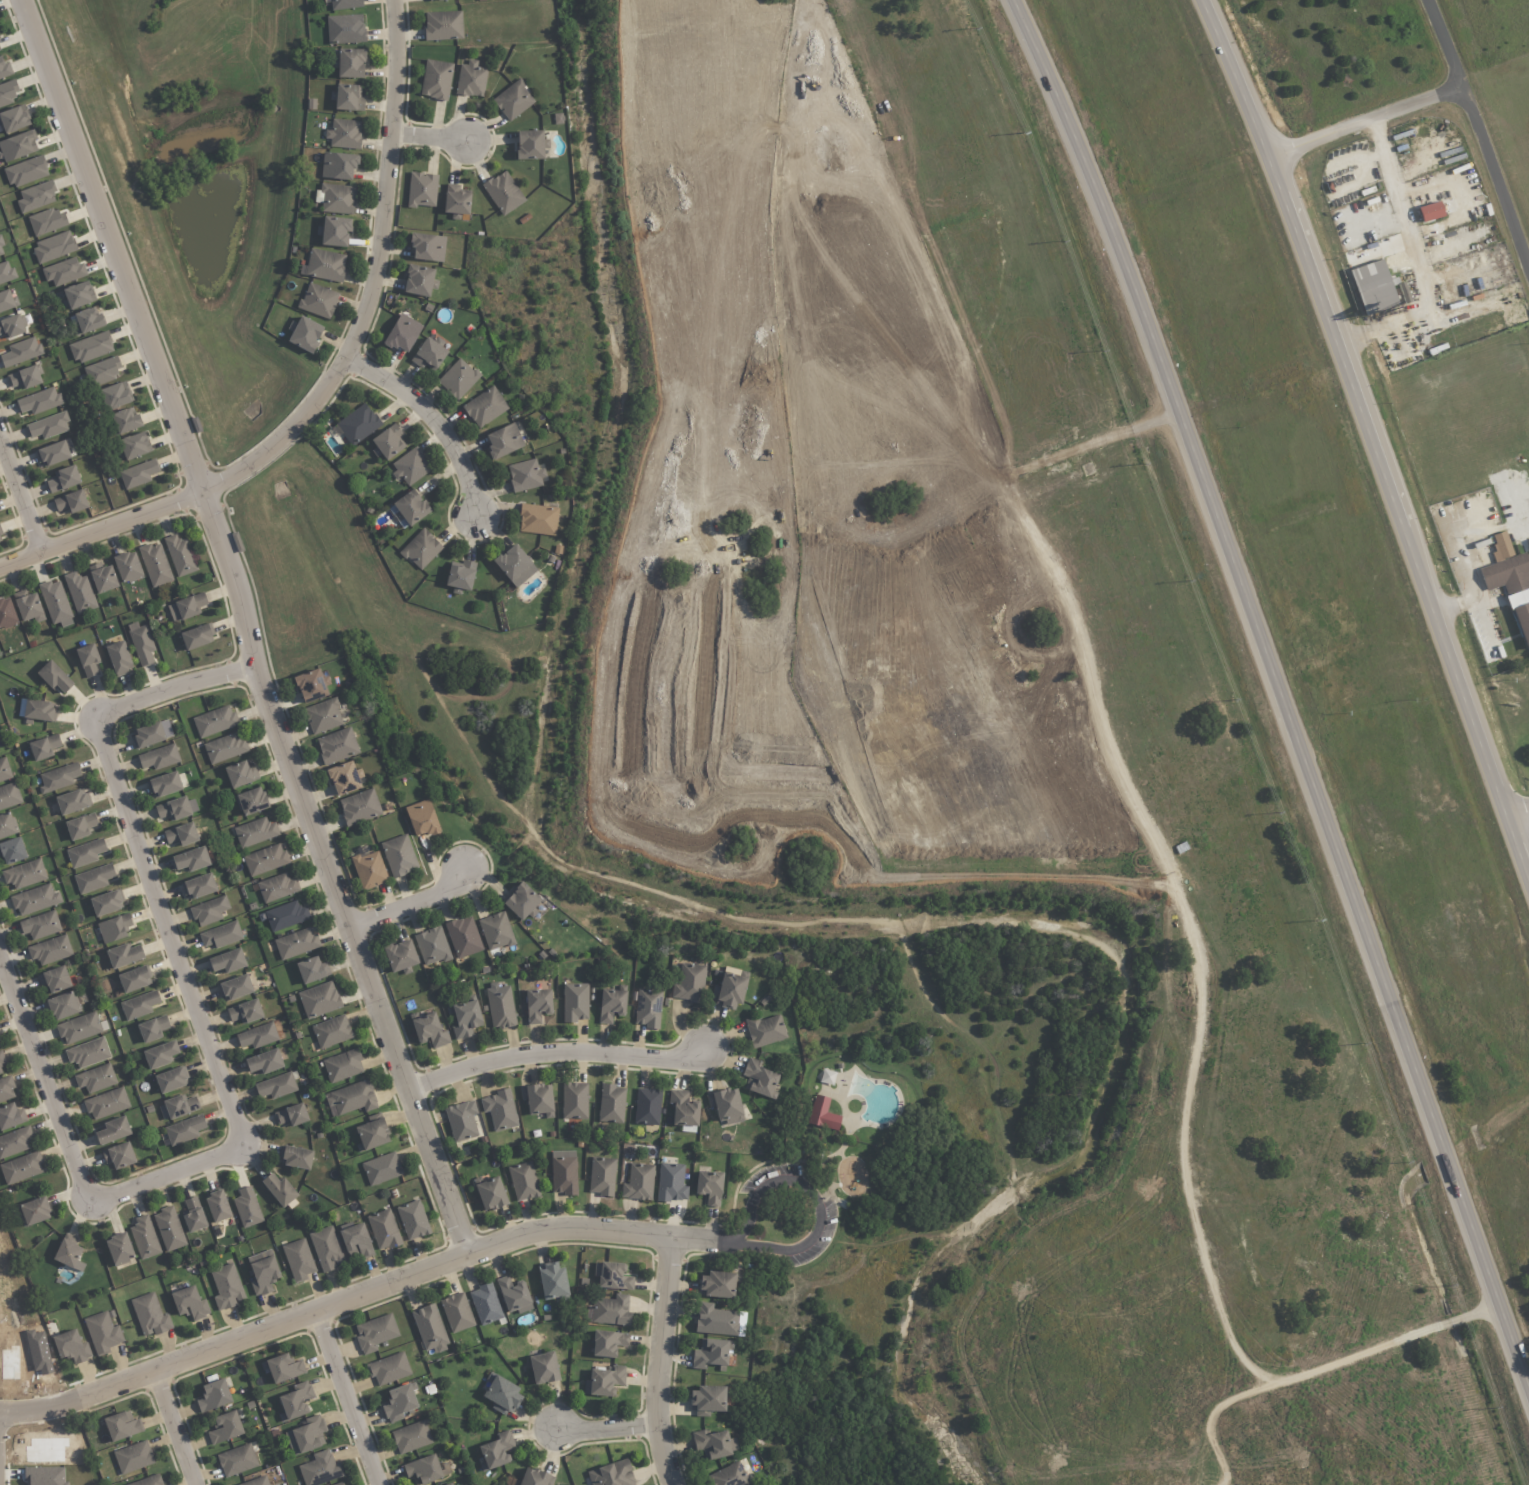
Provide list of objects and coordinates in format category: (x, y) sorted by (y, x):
building: (433, 0)
building: (344, 4)
building: (443, 25)
building: (345, 29)
building: (0, 49)
building: (349, 62)
building: (5, 69)
building: (436, 79)
building: (471, 79)
building: (8, 93)
building: (347, 97)
building: (513, 100)
building: (14, 119)
road: (1366, 122)
building: (344, 134)
road: (1479, 134)
road: (433, 139)
building: (530, 145)
building: (17, 146)
building: (338, 166)
building: (25, 171)
building: (1367, 189)
building: (421, 190)
building: (503, 193)
building: (36, 196)
building: (336, 198)
building: (1372, 199)
building: (456, 201)
building: (1436, 207)
building: (47, 221)
building: (335, 231)
building: (54, 247)
building: (427, 247)
building: (1, 249)
road: (1421, 258)
building: (325, 265)
building: (6, 272)
building: (64, 272)
building: (419, 280)
building: (1373, 285)
building: (77, 295)
building: (7, 300)
building: (318, 300)
building: (89, 320)
building: (11, 326)
building: (402, 333)
building: (304, 334)
building: (90, 347)
building: (21, 352)
building: (429, 354)
building: (102, 371)
building: (25, 378)
road: (331, 379)
building: (458, 379)
building: (115, 395)
building: (39, 401)
building: (485, 407)
building: (125, 420)
road: (434, 421)
building: (358, 424)
building: (48, 426)
road: (1370, 440)
building: (503, 441)
building: (388, 442)
building: (134, 446)
building: (54, 453)
building: (410, 467)
building: (138, 474)
building: (525, 475)
building: (63, 479)
road: (20, 496)
building: (71, 502)
building: (409, 509)
building: (538, 519)
building: (0, 541)
building: (1528, 542)
building: (421, 549)
building: (180, 555)
building: (512, 562)
building: (155, 564)
building: (127, 566)
building: (1505, 567)
building: (460, 576)
building: (102, 578)
building: (80, 593)
building: (55, 603)
building: (28, 606)
building: (186, 607)
building: (7, 613)
building: (1522, 622)
road: (244, 626)
building: (196, 637)
building: (141, 643)
building: (118, 658)
building: (88, 659)
building: (54, 677)
building: (311, 685)
road: (1277, 695)
building: (35, 710)
building: (322, 716)
building: (214, 721)
building: (147, 735)
building: (337, 746)
building: (44, 747)
building: (224, 748)
building: (159, 757)
building: (4, 770)
building: (240, 774)
building: (59, 777)
building: (344, 778)
building: (164, 785)
building: (9, 796)
building: (251, 801)
building: (71, 802)
building: (359, 807)
building: (177, 808)
road: (1517, 811)
building: (421, 818)
building: (6, 826)
building: (80, 826)
building: (255, 832)
building: (181, 835)
building: (12, 851)
building: (85, 853)
building: (398, 856)
building: (191, 859)
building: (265, 860)
building: (368, 869)
building: (24, 874)
building: (94, 878)
building: (198, 886)
building: (277, 887)
building: (35, 900)
building: (521, 902)
building: (105, 903)
road: (411, 903)
building: (209, 911)
building: (286, 916)
building: (40, 925)
building: (114, 928)
building: (496, 931)
building: (221, 935)
building: (463, 937)
building: (296, 943)
building: (432, 946)
road: (1195, 947)
building: (50, 950)
building: (124, 955)
building: (400, 955)
building: (227, 961)
building: (312, 970)
building: (54, 979)
building: (133, 979)
building: (689, 983)
building: (235, 988)
building: (729, 992)
building: (319, 1000)
building: (575, 1002)
building: (611, 1004)
building: (139, 1005)
building: (537, 1005)
building: (62, 1006)
building: (500, 1006)
building: (649, 1008)
building: (245, 1012)
building: (465, 1018)
building: (79, 1028)
building: (152, 1029)
building: (429, 1030)
building: (765, 1030)
building: (331, 1032)
building: (257, 1036)
building: (88, 1053)
building: (160, 1054)
road: (552, 1056)
road: (211, 1057)
building: (2, 1058)
building: (264, 1062)
building: (342, 1065)
building: (0, 1071)
building: (96, 1078)
building: (170, 1080)
building: (276, 1086)
building: (6, 1088)
building: (352, 1098)
building: (538, 1099)
building: (575, 1101)
building: (106, 1104)
building: (612, 1104)
building: (647, 1106)
building: (725, 1106)
building: (177, 1107)
building: (683, 1109)
building: (500, 1110)
building: (822, 1114)
building: (291, 1115)
building: (11, 1116)
building: (461, 1121)
building: (113, 1130)
building: (184, 1130)
building: (372, 1132)
building: (15, 1142)
building: (119, 1156)
building: (296, 1157)
building: (21, 1168)
building: (381, 1169)
building: (564, 1172)
building: (602, 1176)
building: (523, 1181)
building: (639, 1182)
building: (671, 1183)
building: (709, 1187)
building: (279, 1190)
building: (491, 1194)
road: (815, 1197)
building: (217, 1205)
building: (247, 1208)
building: (34, 1211)
building: (193, 1215)
parking lot: (824, 1219)
building: (413, 1220)
building: (169, 1229)
building: (383, 1230)
building: (144, 1238)
building: (355, 1241)
road: (723, 1242)
building: (326, 1248)
building: (119, 1249)
building: (69, 1253)
building: (298, 1260)
building: (263, 1272)
building: (612, 1276)
building: (552, 1281)
building: (718, 1284)
building: (227, 1287)
building: (514, 1295)
road: (354, 1298)
building: (190, 1303)
building: (485, 1304)
building: (610, 1310)
building: (457, 1312)
building: (150, 1315)
building: (716, 1320)
building: (429, 1329)
building: (102, 1333)
building: (375, 1333)
building: (608, 1343)
building: (71, 1347)
building: (711, 1353)
road: (660, 1362)
building: (283, 1368)
building: (544, 1368)
building: (389, 1369)
building: (604, 1381)
building: (501, 1395)
building: (213, 1396)
road: (347, 1399)
building: (296, 1400)
building: (707, 1401)
building: (399, 1402)
road: (1215, 1413)
building: (122, 1426)
road: (607, 1427)
road: (174, 1428)
building: (225, 1428)
building: (307, 1435)
building: (411, 1437)
building: (714, 1444)
building: (45, 1450)
building: (496, 1451)
building: (133, 1457)
building: (237, 1460)
building: (319, 1469)
building: (426, 1469)
building: (610, 1474)
building: (45, 1476)
building: (729, 1476)
building: (535, 1478)
building: (148, 1481)
building: (257, 1481)
building: (342, 1484)
building: (449, 1484)

